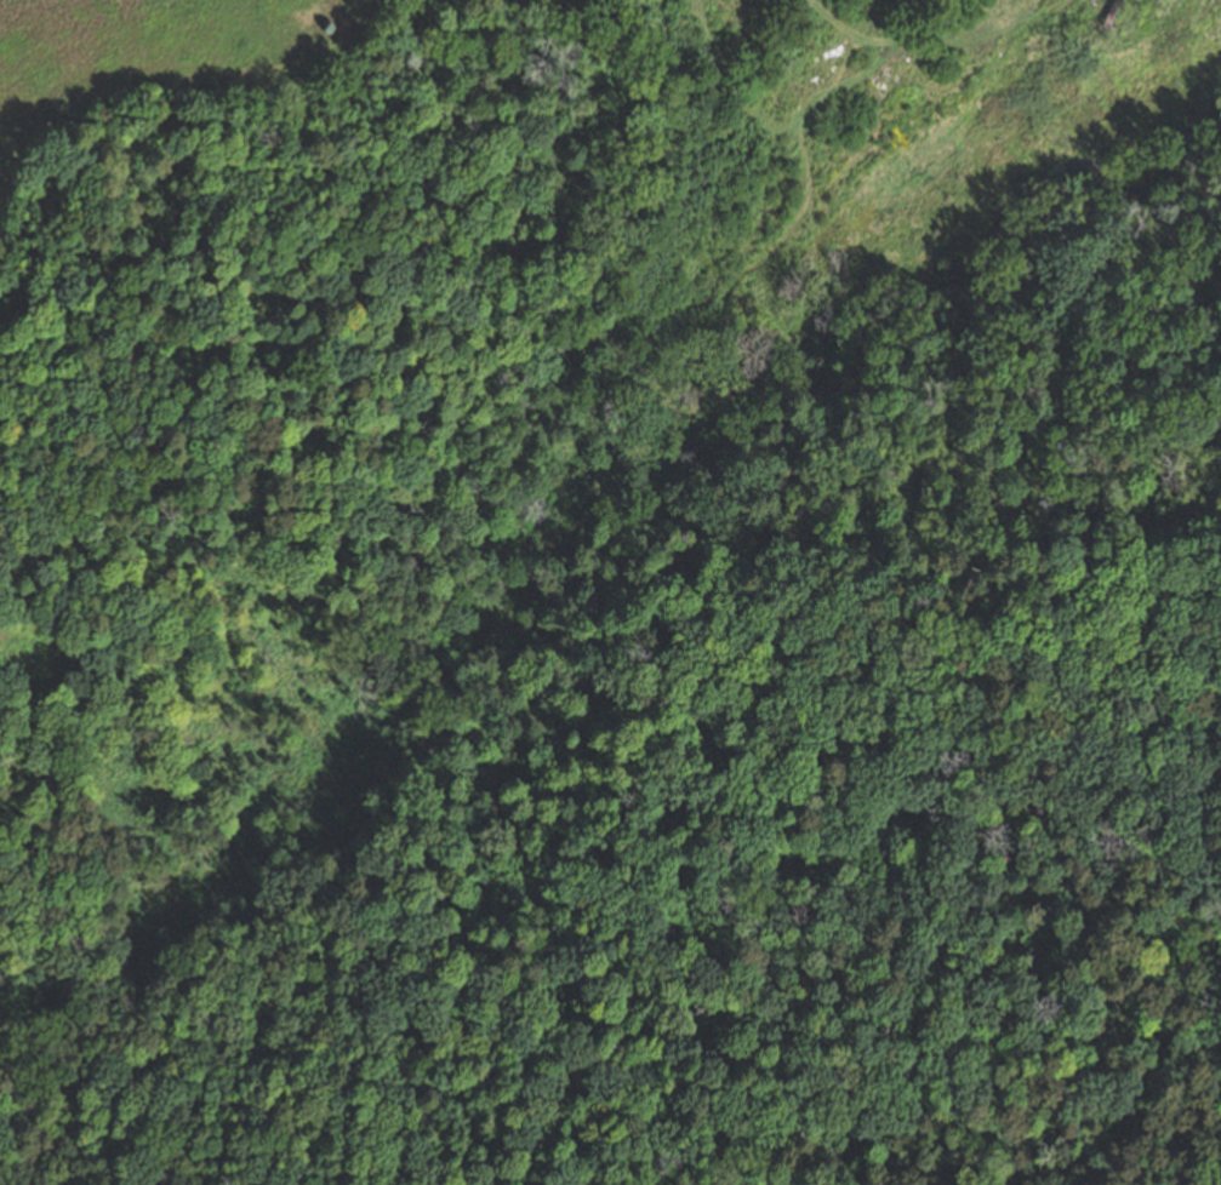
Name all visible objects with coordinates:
building: (1113, 12)

